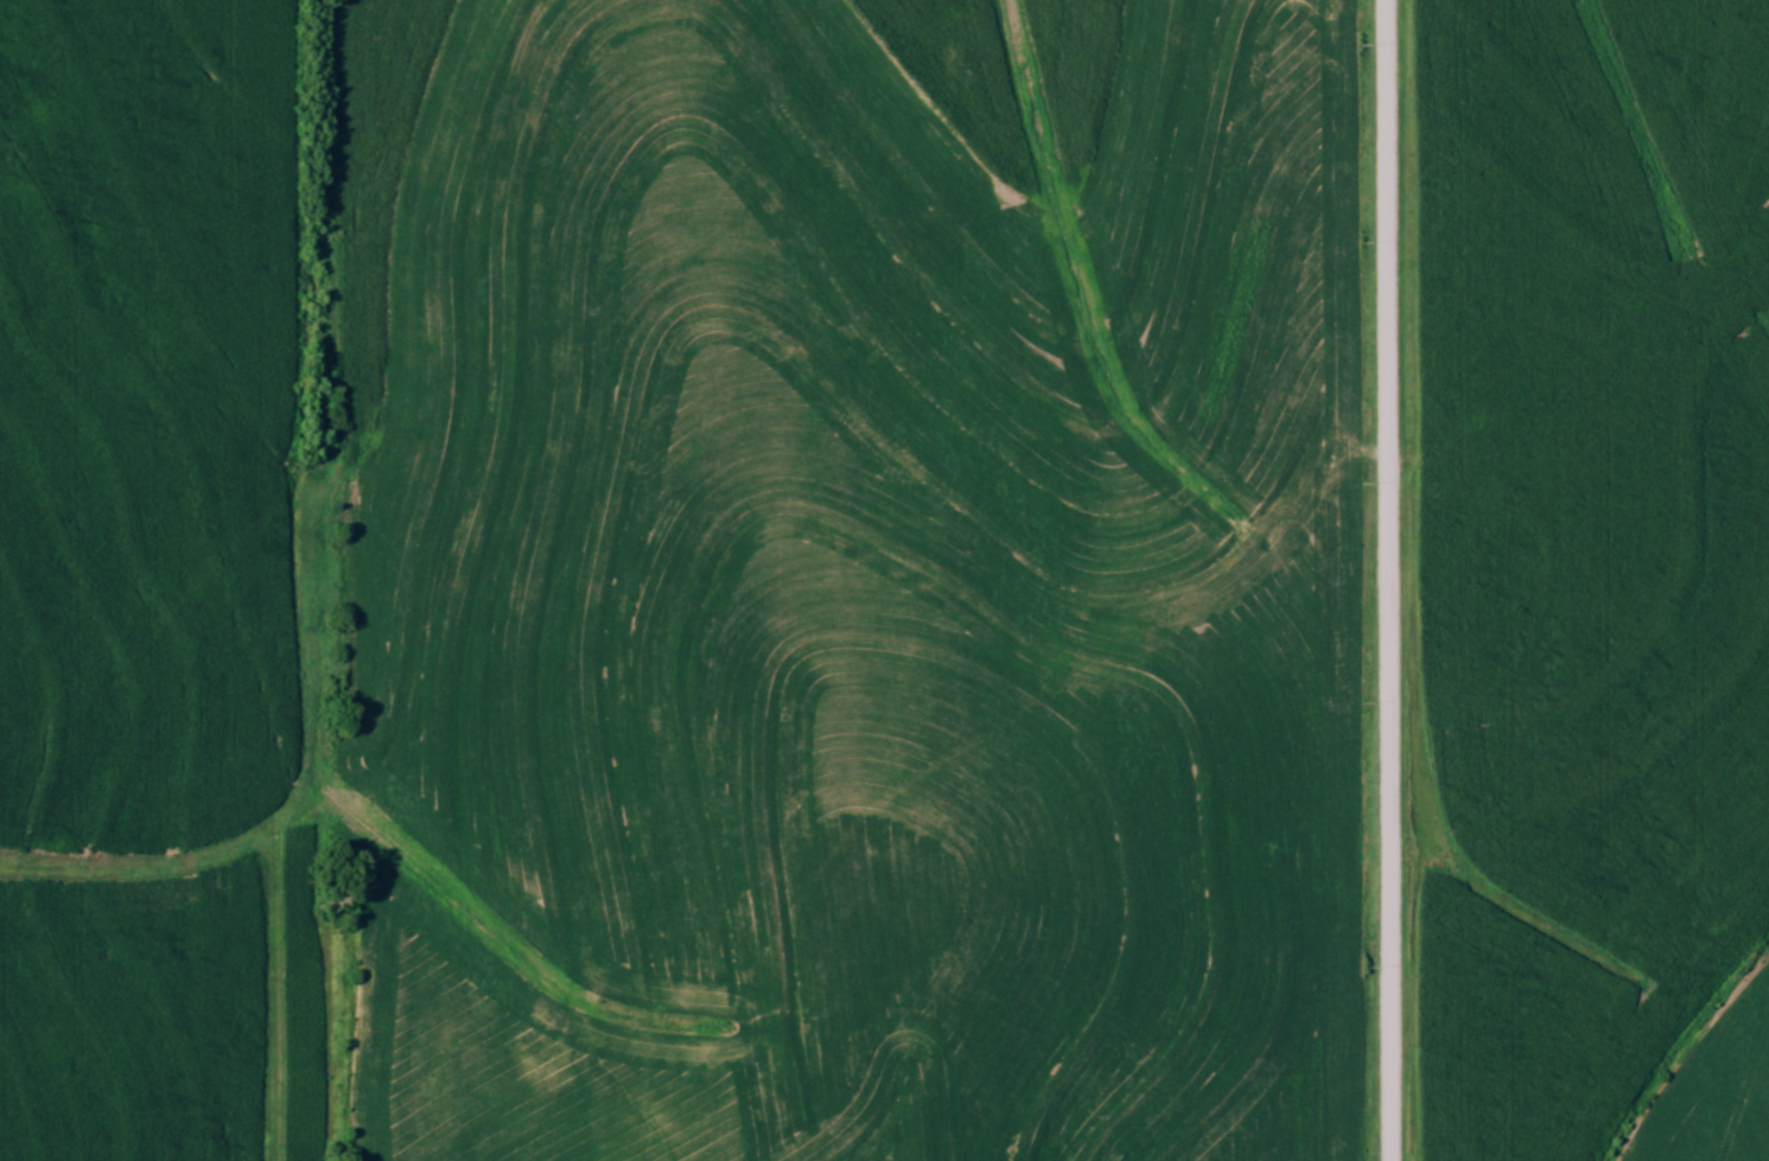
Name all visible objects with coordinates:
road: (1389, 580)

